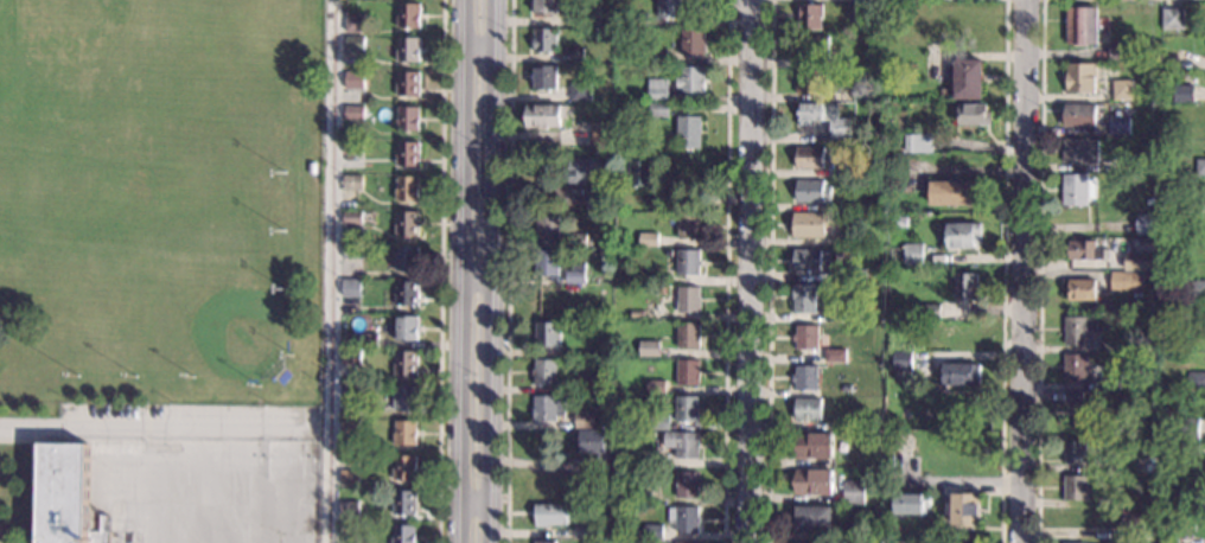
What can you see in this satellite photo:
road: (745, 2)
road: (734, 5)
building: (547, 6)
building: (669, 8)
building: (588, 14)
building: (866, 14)
building: (408, 15)
building: (810, 15)
building: (638, 19)
building: (1172, 19)
building: (355, 23)
building: (1082, 25)
building: (546, 40)
park: (77, 41)
building: (694, 41)
building: (355, 43)
building: (814, 46)
building: (640, 47)
building: (408, 50)
building: (1120, 50)
building: (573, 56)
building: (657, 56)
building: (1115, 64)
building: (544, 77)
building: (353, 78)
building: (1080, 78)
building: (691, 79)
building: (969, 79)
building: (810, 83)
building: (408, 84)
building: (658, 89)
building: (1122, 89)
building: (580, 91)
building: (862, 91)
building: (944, 91)
building: (1181, 94)
building: (644, 96)
building: (659, 109)
building: (355, 113)
building: (974, 114)
building: (543, 115)
building: (1079, 115)
building: (824, 117)
building: (407, 119)
building: (1118, 126)
building: (689, 132)
building: (599, 133)
building: (922, 142)
building: (352, 147)
building: (1079, 151)
building: (407, 153)
building: (810, 156)
building: (1143, 161)
building: (849, 166)
building: (1199, 166)
building: (312, 167)
building: (585, 170)
building: (642, 173)
building: (352, 181)
building: (408, 189)
building: (1075, 190)
building: (812, 191)
building: (955, 193)
building: (595, 199)
park: (161, 202)
building: (1201, 204)
building: (617, 205)
building: (352, 217)
building: (898, 221)
building: (407, 222)
building: (809, 224)
building: (1146, 224)
building: (548, 225)
building: (689, 226)
building: (962, 235)
building: (648, 239)
building: (578, 241)
building: (365, 247)
building: (1154, 248)
building: (1084, 250)
building: (352, 251)
building: (589, 251)
building: (912, 254)
building: (407, 257)
building: (806, 260)
building: (1141, 261)
building: (547, 262)
building: (688, 262)
road: (726, 268)
road: (746, 270)
road: (329, 271)
road: (441, 271)
road: (461, 271)
road: (493, 271)
road: (510, 271)
road: (769, 271)
building: (859, 271)
road: (1002, 271)
road: (1021, 271)
road: (1039, 271)
building: (837, 273)
building: (575, 276)
building: (1126, 282)
building: (964, 286)
building: (350, 287)
building: (1082, 289)
building: (657, 290)
building: (1194, 290)
building: (403, 294)
building: (803, 298)
building: (548, 299)
building: (905, 299)
building: (688, 300)
building: (1194, 306)
building: (924, 311)
building: (576, 313)
building: (834, 314)
park: (221, 315)
building: (406, 327)
building: (1078, 330)
building: (958, 333)
building: (547, 334)
building: (687, 334)
building: (805, 337)
building: (368, 340)
building: (1108, 344)
building: (649, 349)
building: (351, 356)
building: (835, 356)
building: (903, 360)
building: (606, 362)
building: (406, 363)
building: (1076, 369)
building: (546, 371)
building: (688, 372)
building: (961, 375)
building: (805, 377)
building: (1196, 381)
building: (593, 382)
building: (1109, 382)
building: (656, 387)
building: (847, 389)
building: (350, 390)
building: (406, 397)
building: (549, 408)
building: (687, 408)
building: (808, 409)
building: (1082, 410)
building: (1163, 415)
building: (585, 420)
building: (657, 422)
building: (859, 423)
road: (154, 426)
building: (1187, 428)
building: (350, 429)
building: (406, 433)
building: (651, 434)
building: (868, 435)
building: (876, 436)
road: (44, 441)
building: (683, 443)
building: (900, 443)
building: (594, 446)
building: (814, 446)
building: (1192, 449)
building: (1075, 451)
park: (293, 459)
building: (859, 459)
building: (1146, 464)
building: (404, 467)
building: (349, 477)
building: (812, 483)
building: (687, 484)
building: (1075, 487)
road: (31, 492)
building: (853, 492)
building: (64, 493)
building: (646, 494)
building: (404, 502)
building: (910, 503)
building: (1194, 505)
building: (964, 509)
building: (350, 510)
building: (550, 515)
building: (814, 518)
building: (683, 519)
building: (1133, 520)
building: (854, 530)
building: (652, 531)
building: (894, 531)
building: (587, 532)
building: (404, 534)
building: (1180, 538)
building: (544, 542)
building: (686, 542)
building: (804, 542)
building: (1070, 542)

